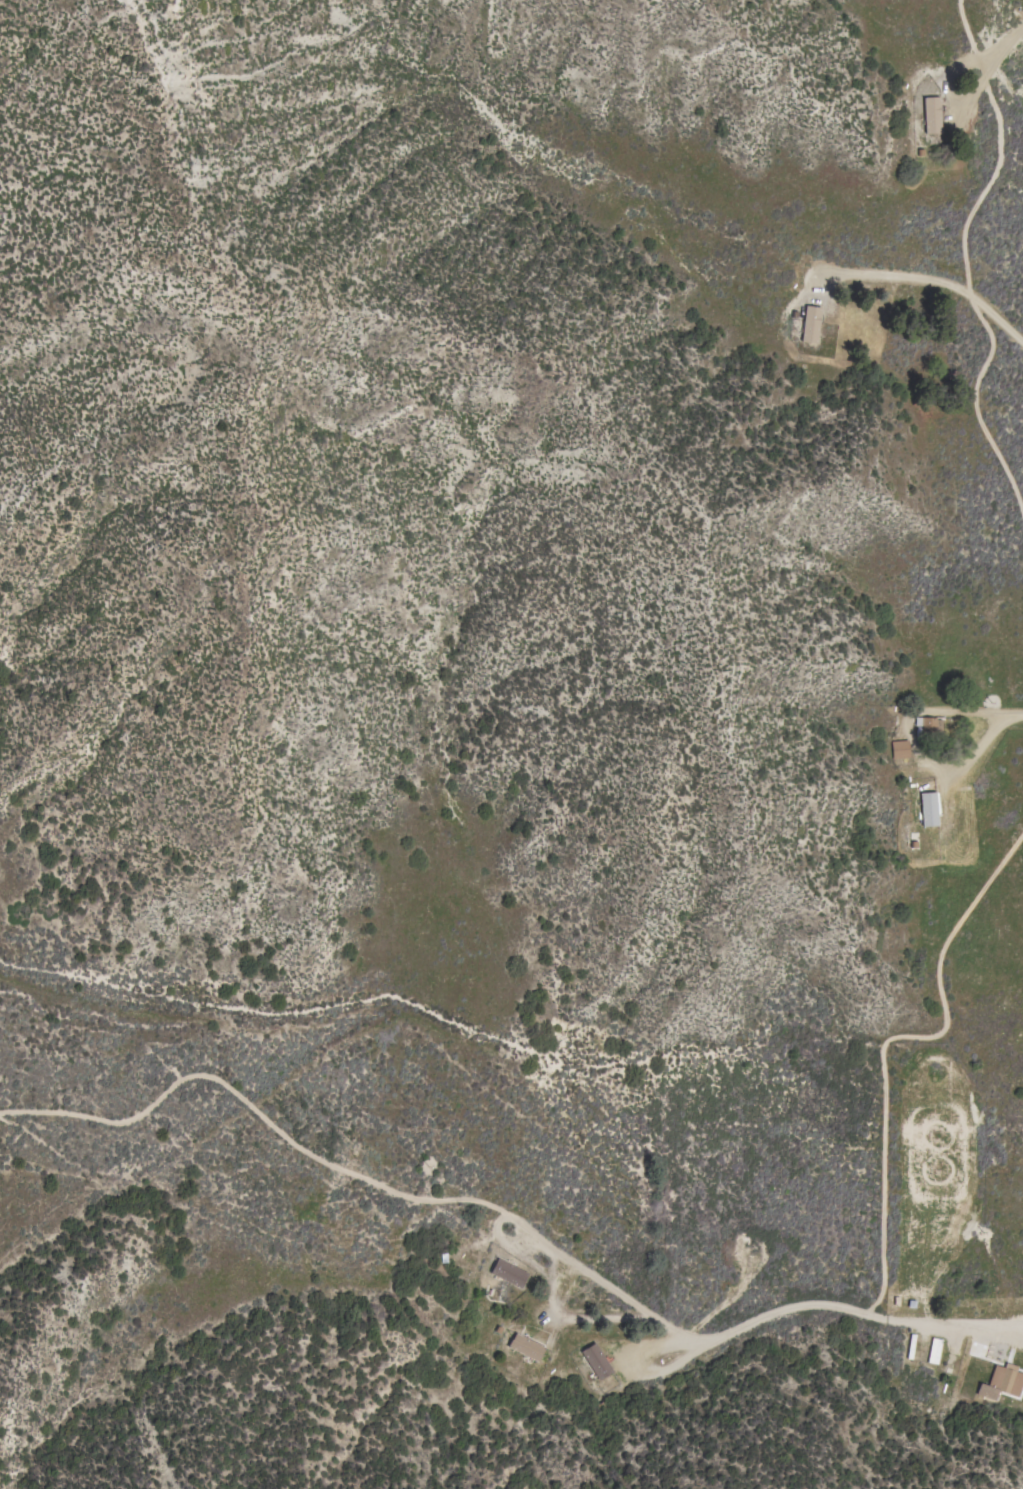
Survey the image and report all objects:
road: (985, 65)
building: (934, 115)
building: (810, 325)
road: (1015, 713)
building: (928, 726)
road: (912, 743)
building: (899, 749)
building: (928, 809)
road: (256, 1112)
building: (507, 1273)
road: (748, 1317)
building: (910, 1346)
building: (525, 1347)
building: (933, 1350)
building: (596, 1361)
building: (1002, 1381)

